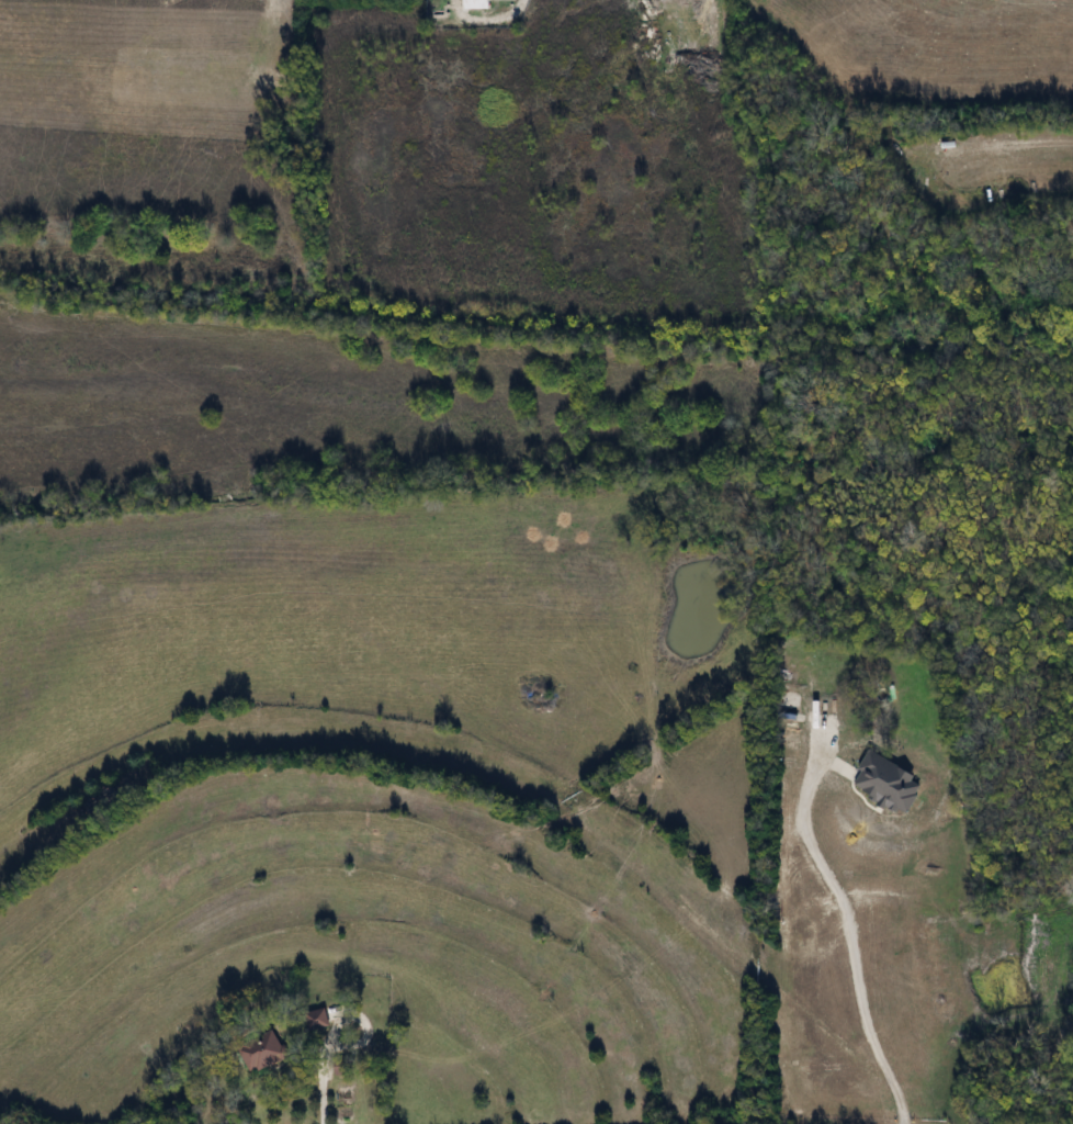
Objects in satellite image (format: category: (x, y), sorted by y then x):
building: (476, 4)
road: (849, 934)
building: (316, 1019)
building: (261, 1052)

